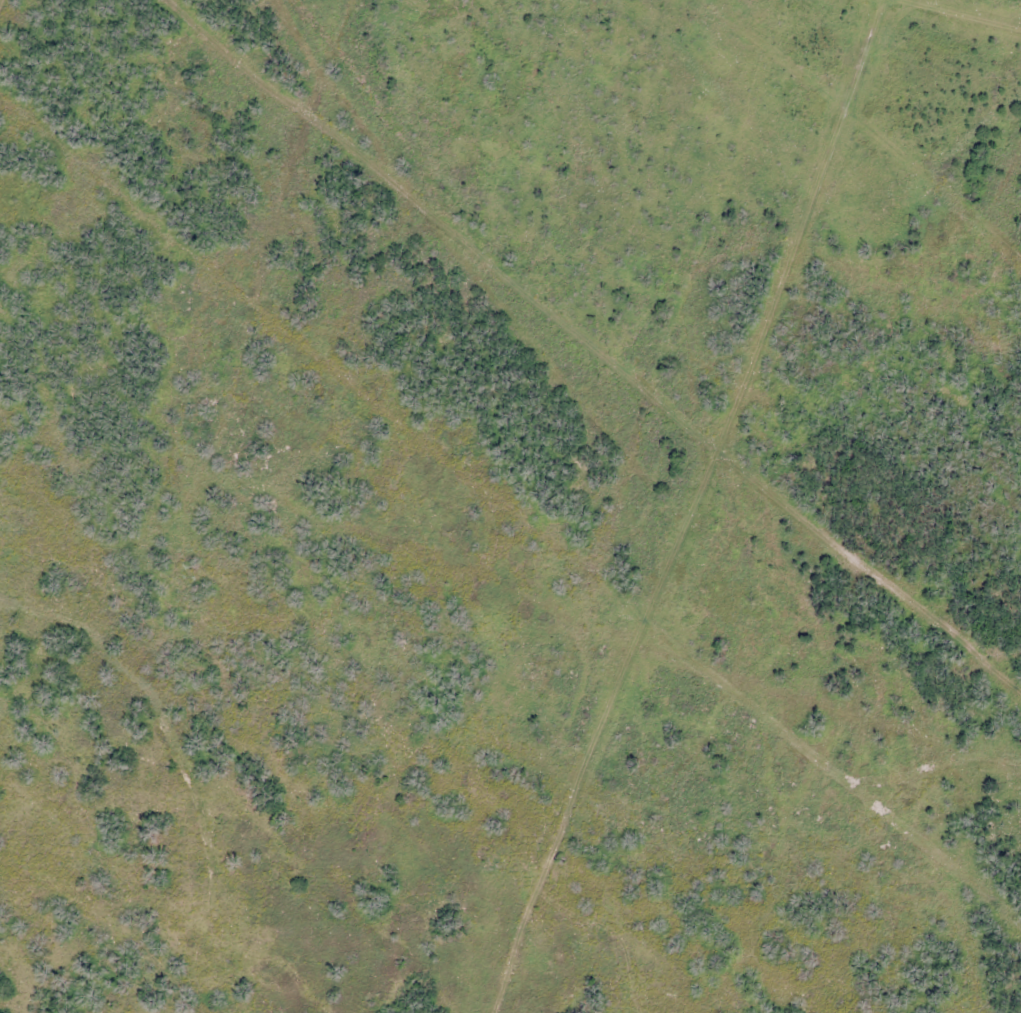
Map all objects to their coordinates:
road: (4, 24)

